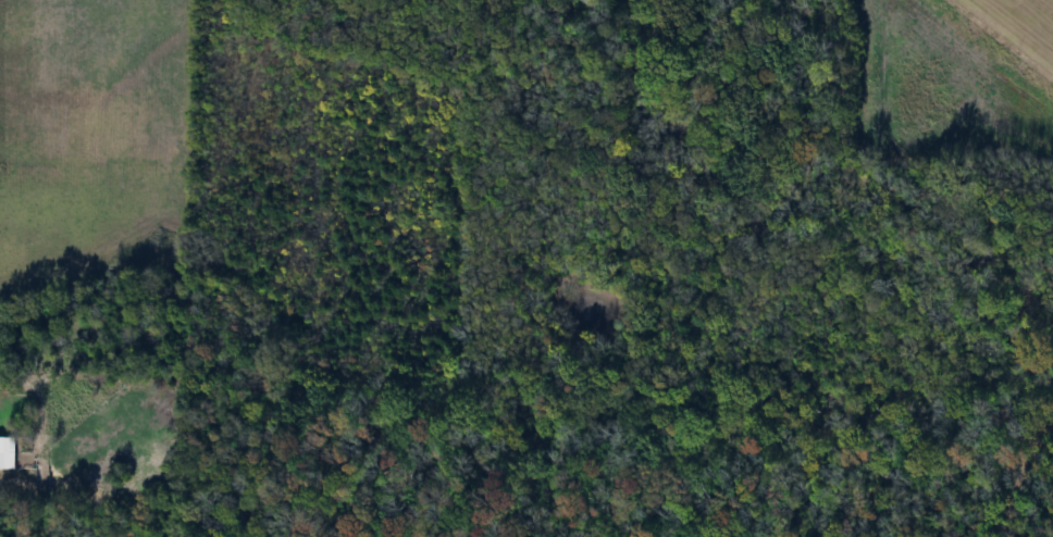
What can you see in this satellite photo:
building: (5, 453)

